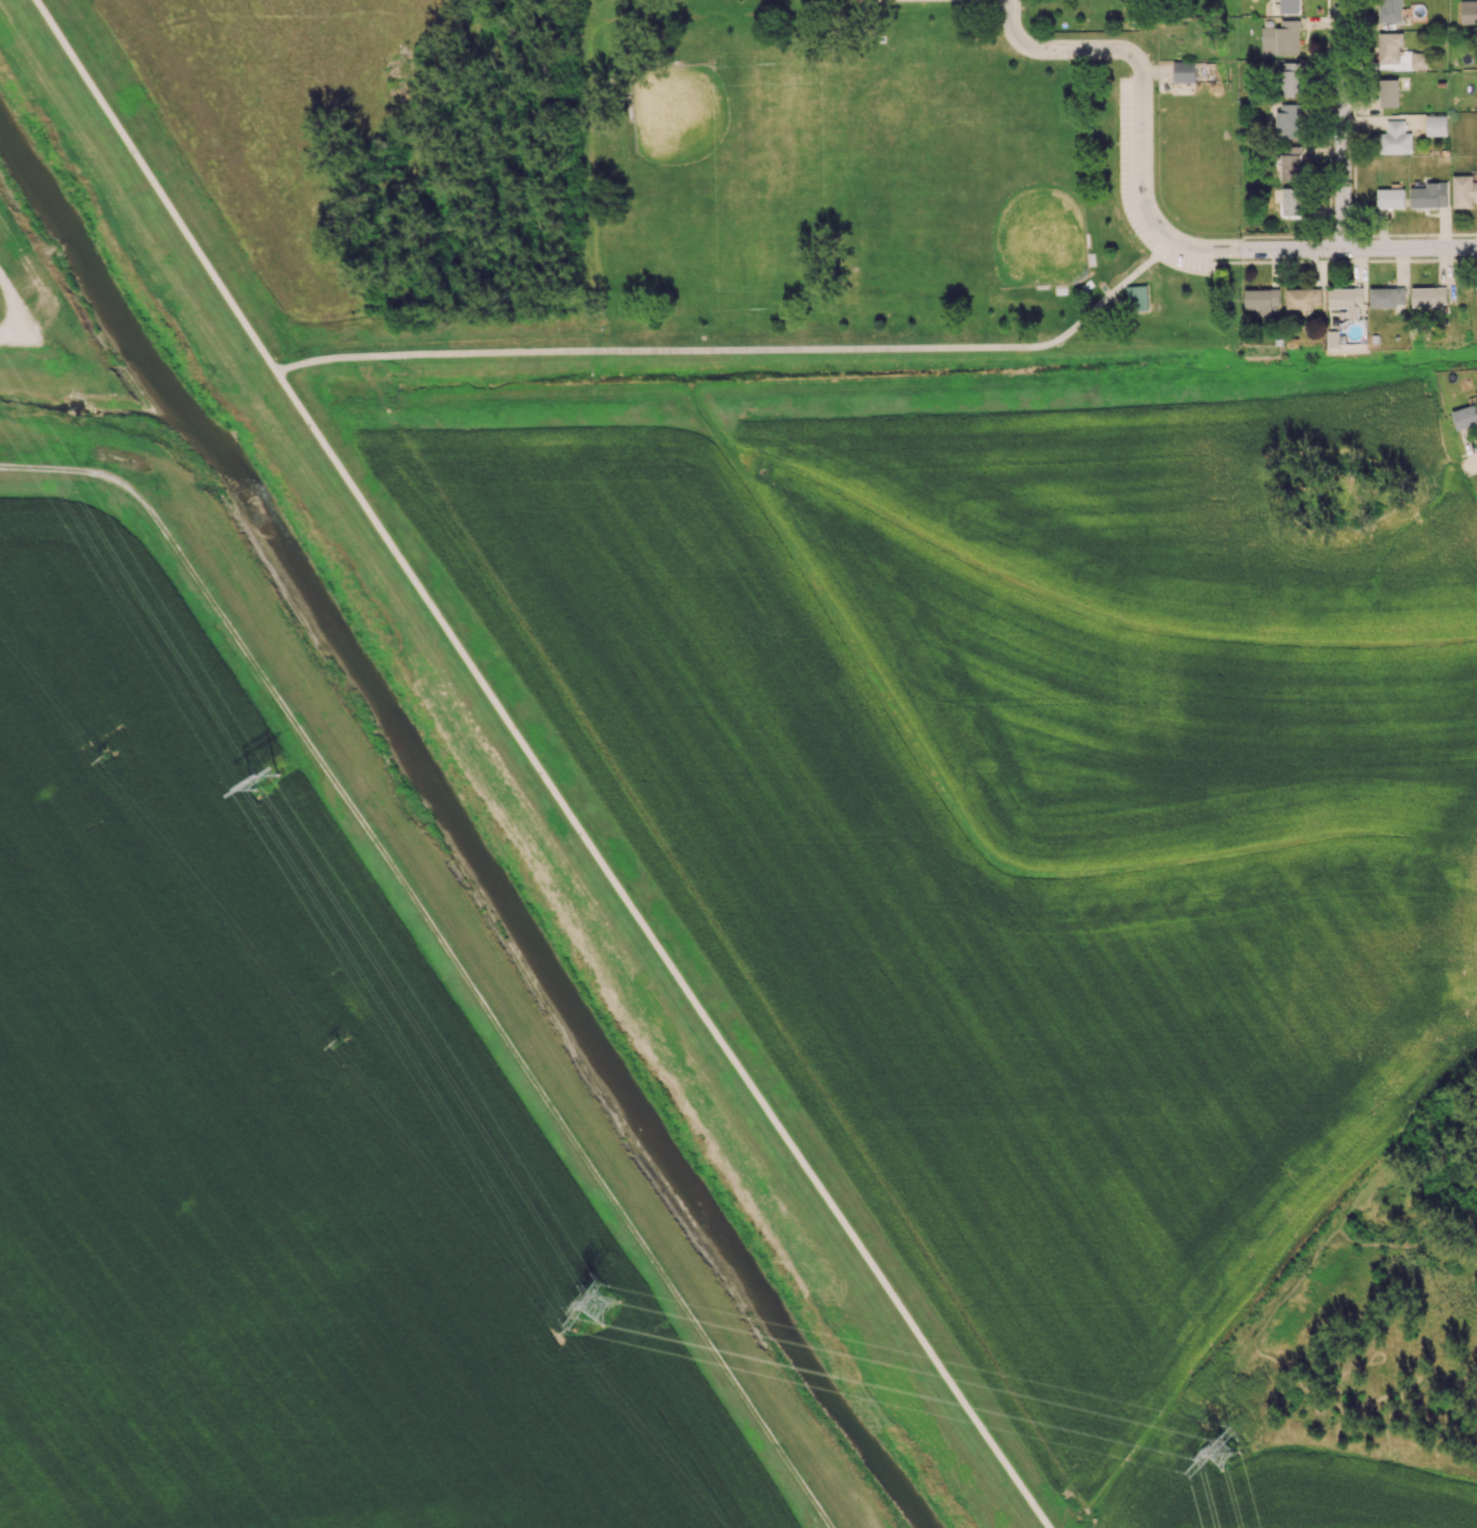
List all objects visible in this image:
building: (1289, 6)
building: (1390, 10)
building: (1468, 11)
building: (1281, 38)
road: (1066, 49)
building: (1390, 49)
building: (1417, 60)
building: (1183, 71)
building: (1289, 82)
building: (1388, 92)
building: (1287, 120)
road: (1339, 125)
building: (1436, 125)
parking lot: (1129, 131)
building: (1395, 138)
road: (1151, 144)
park: (732, 153)
building: (1290, 163)
road: (158, 185)
road: (1140, 185)
park: (888, 187)
building: (1463, 191)
park: (995, 194)
building: (1430, 195)
building: (1390, 198)
building: (1292, 201)
road: (1409, 249)
road: (1276, 251)
road: (1308, 262)
river: (95, 291)
building: (1476, 293)
building: (1429, 296)
building: (1303, 297)
building: (1386, 297)
building: (1139, 299)
building: (1346, 299)
building: (1261, 300)
building: (1332, 340)
road: (742, 349)
building: (1465, 416)
road: (1474, 469)
power tower: (105, 760)
power tower: (270, 787)
crop: (1036, 812)
road: (662, 951)
river: (552, 986)
power tower: (334, 1045)
power tower: (604, 1308)
power tower: (568, 1331)
power tower: (1222, 1454)
crop: (1277, 1490)

